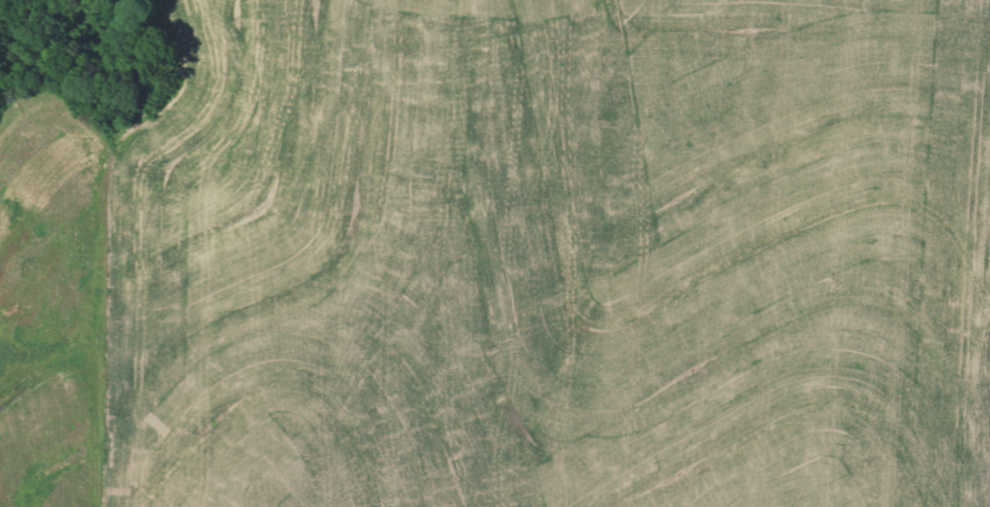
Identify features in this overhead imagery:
crop: (554, 256)

